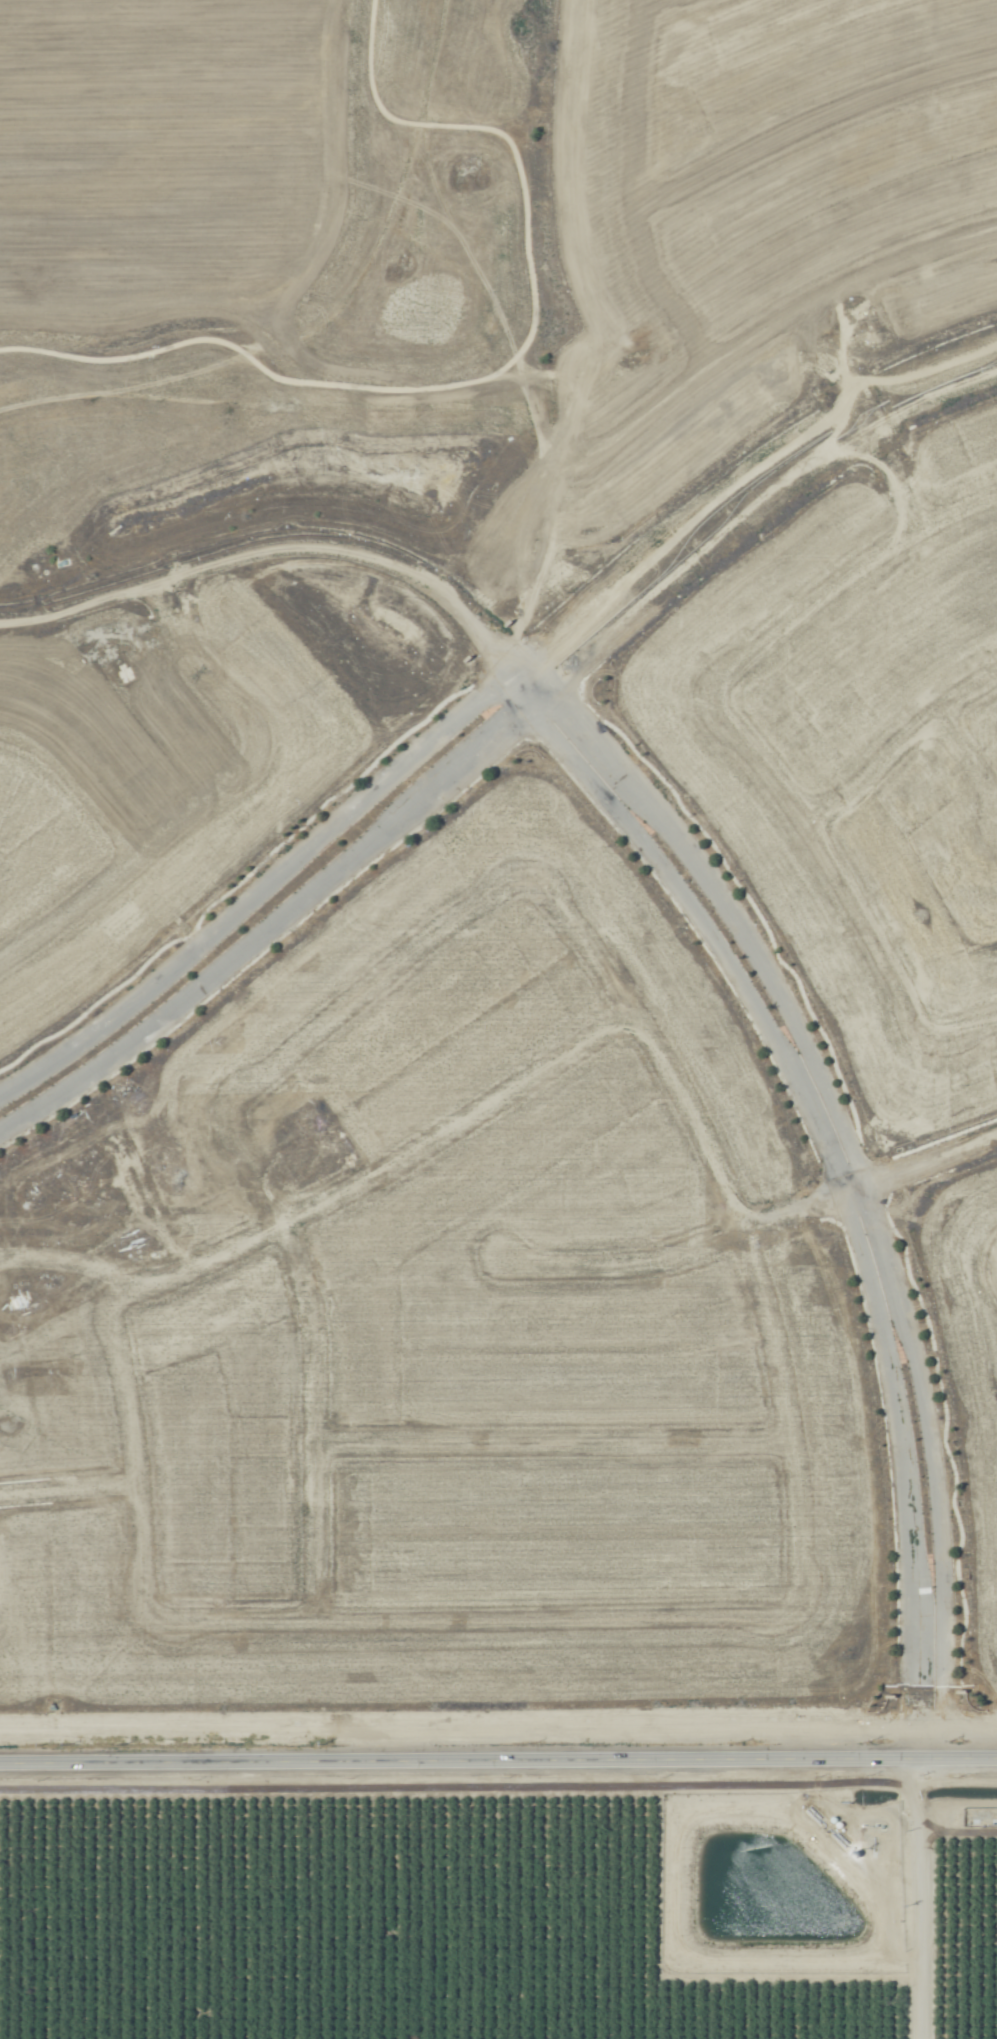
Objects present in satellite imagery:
road: (498, 1762)
road: (917, 1899)

